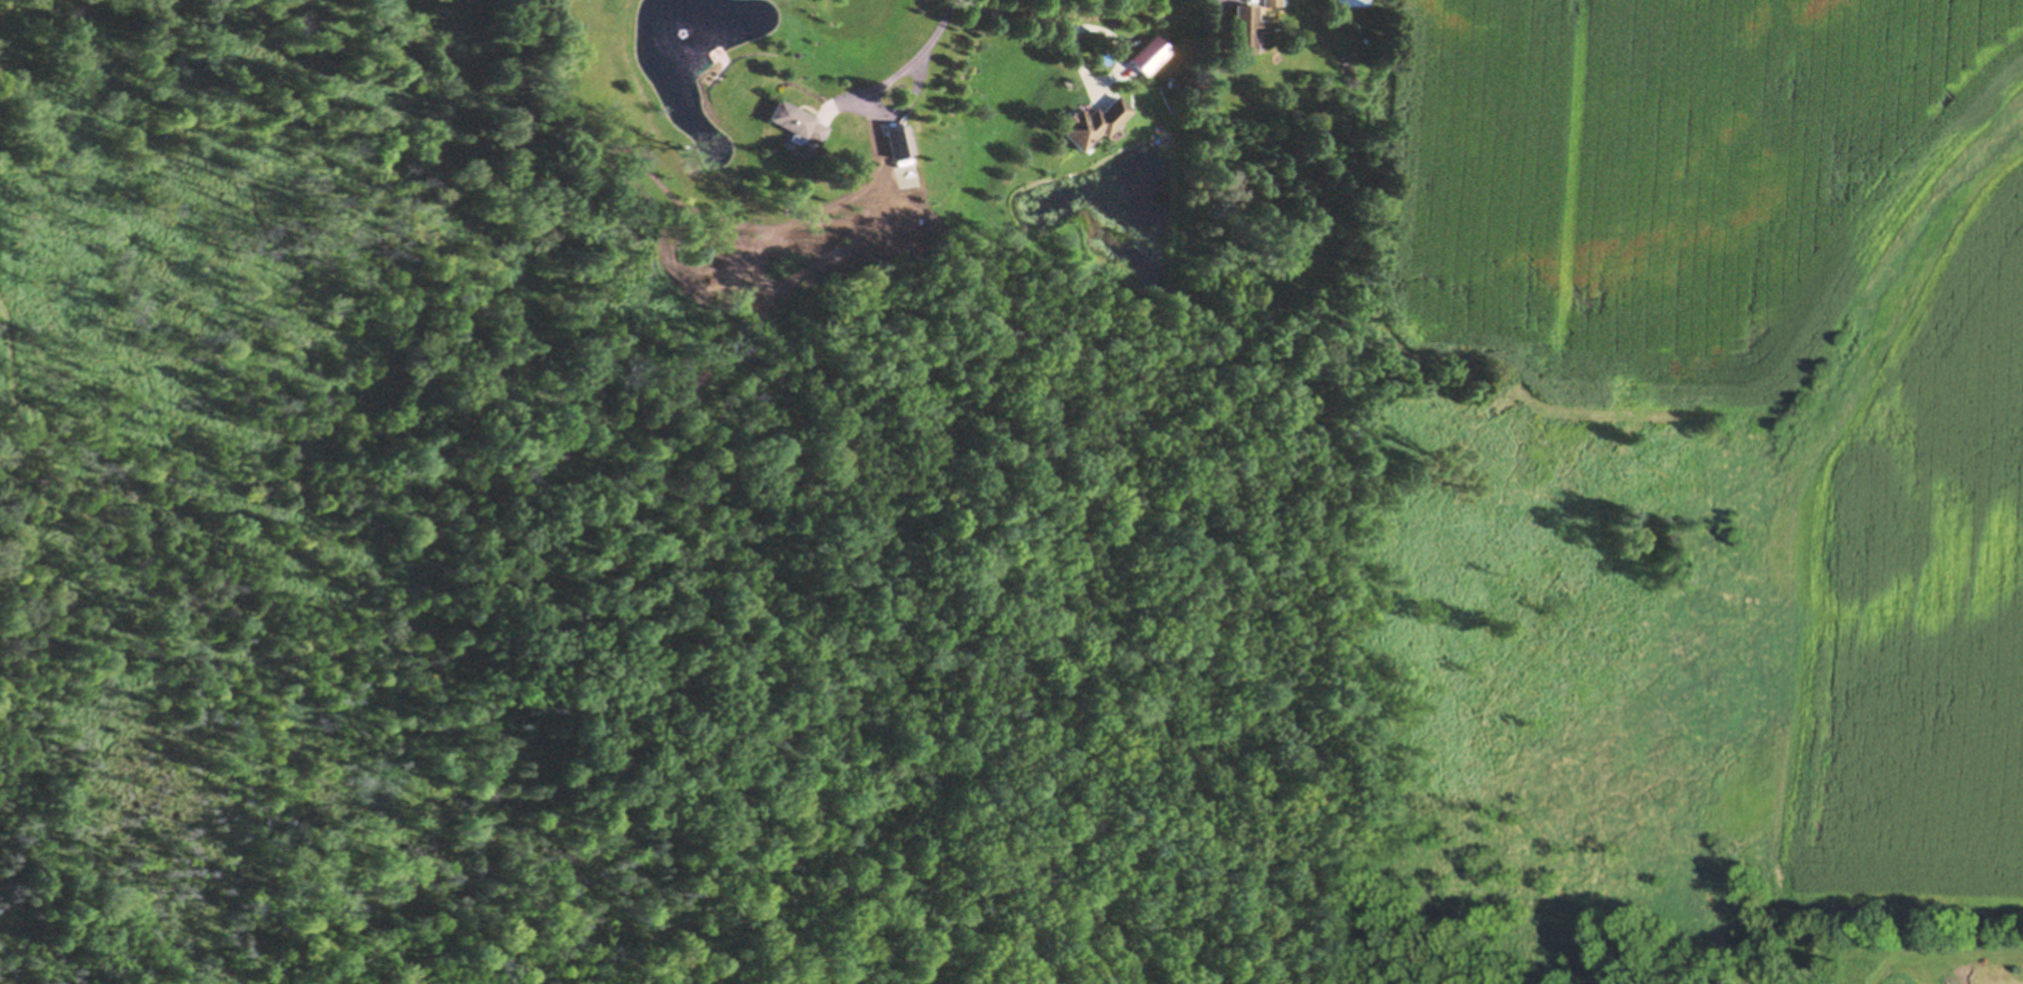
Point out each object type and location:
building: (156, 0)
building: (1270, 4)
building: (1349, 4)
road: (1012, 15)
building: (1245, 30)
building: (1368, 39)
road: (907, 63)
building: (1174, 83)
building: (796, 125)
building: (1092, 125)
building: (899, 143)

